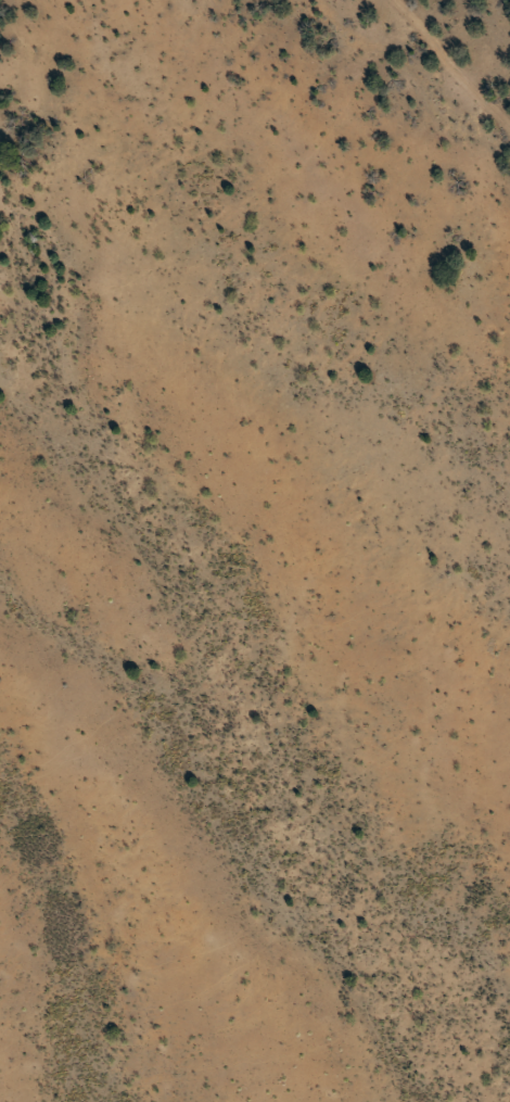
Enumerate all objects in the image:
road: (450, 73)

